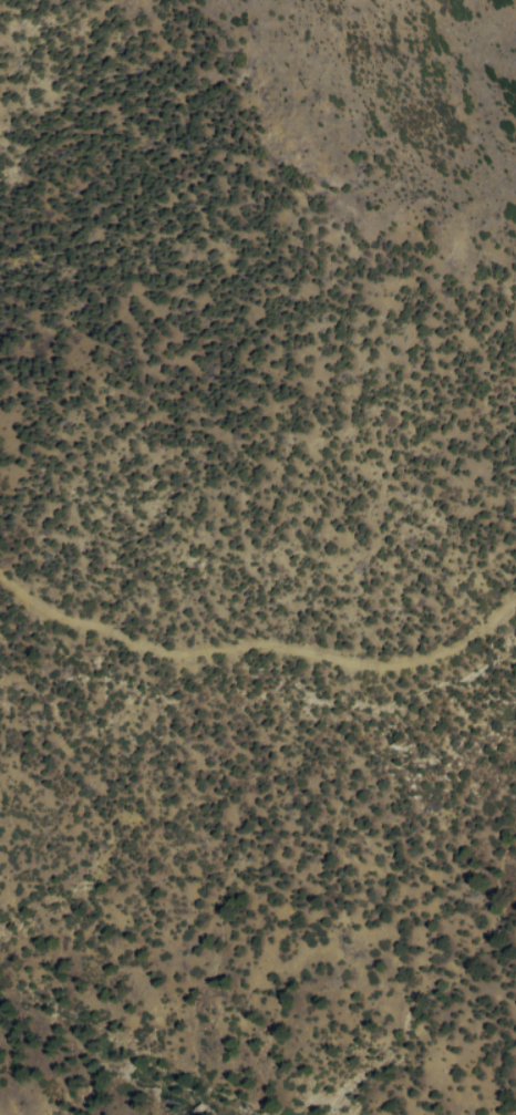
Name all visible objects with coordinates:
road: (259, 644)

